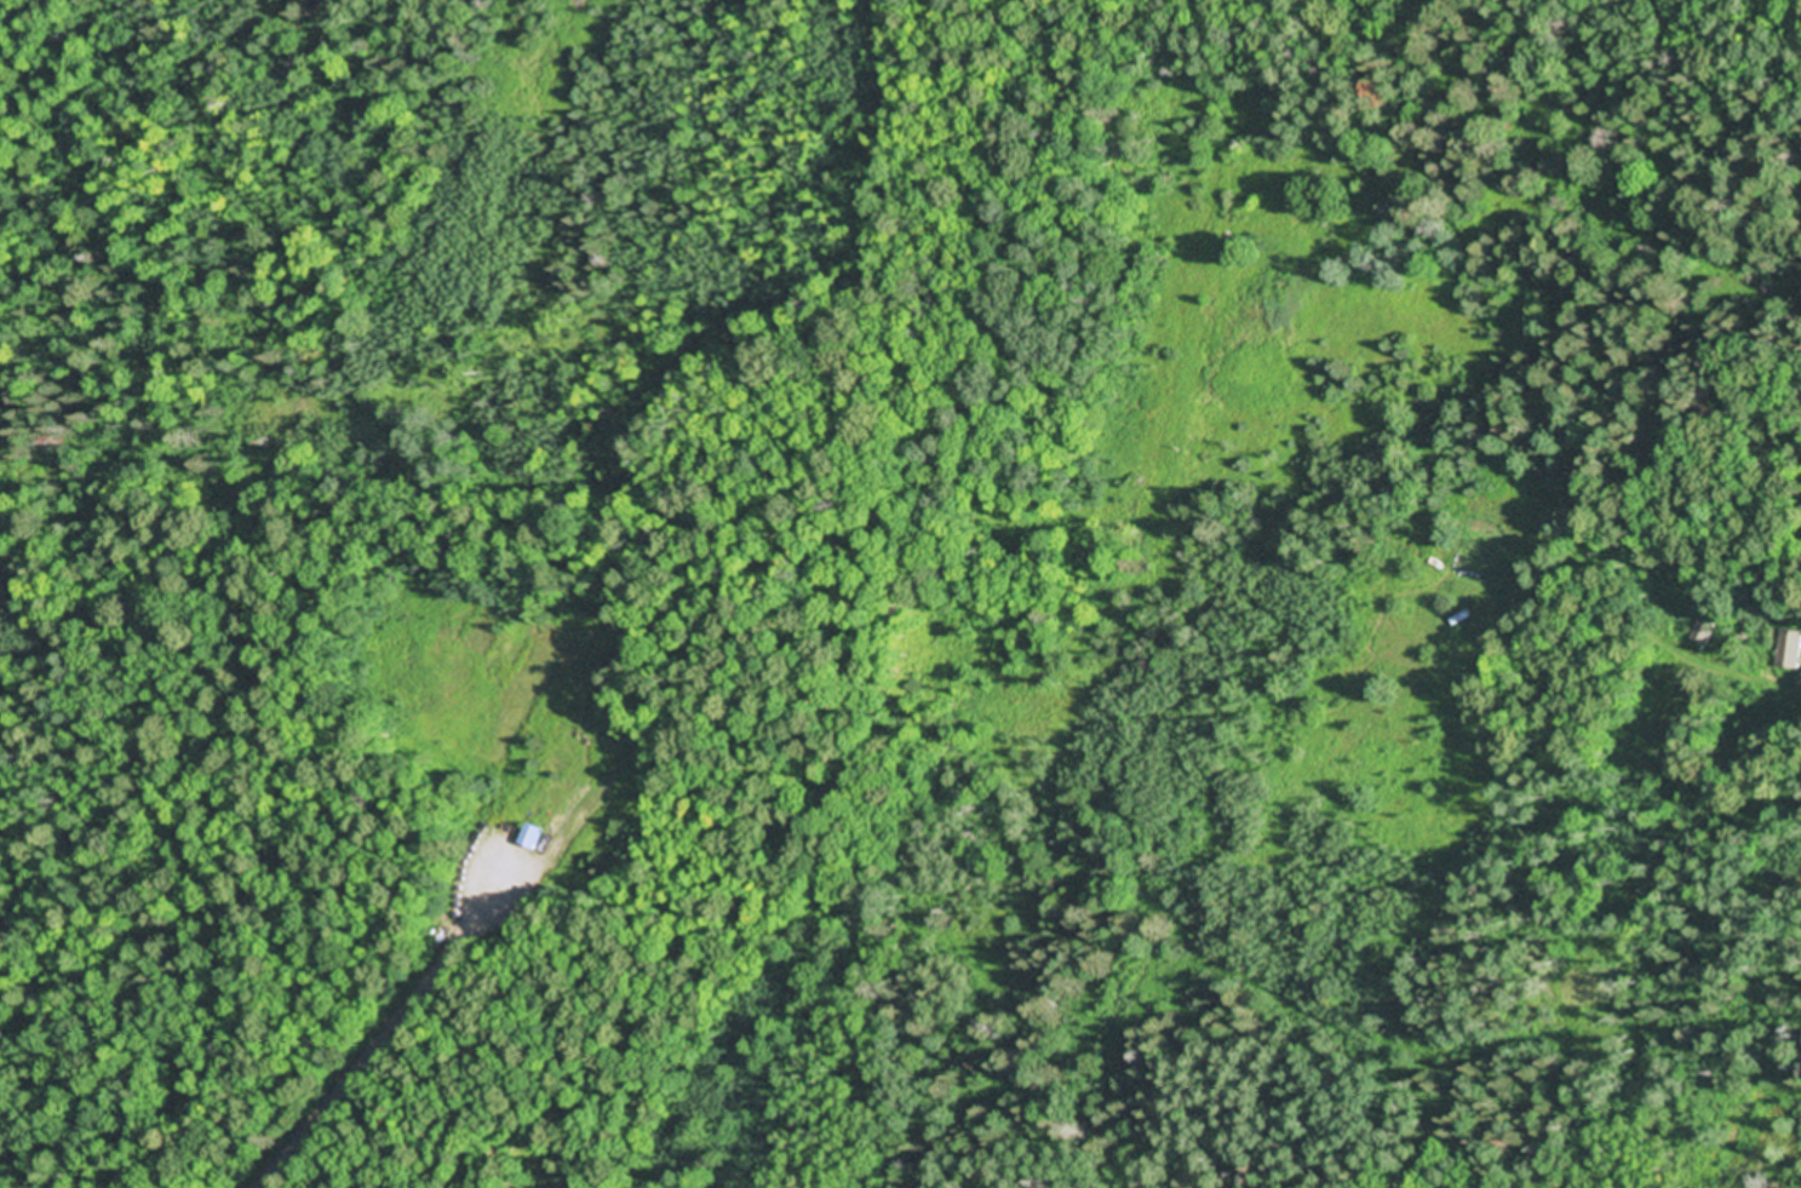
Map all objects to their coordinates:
road: (1407, 84)
building: (1705, 630)
building: (1790, 648)
landfill: (527, 746)
road: (371, 1060)

